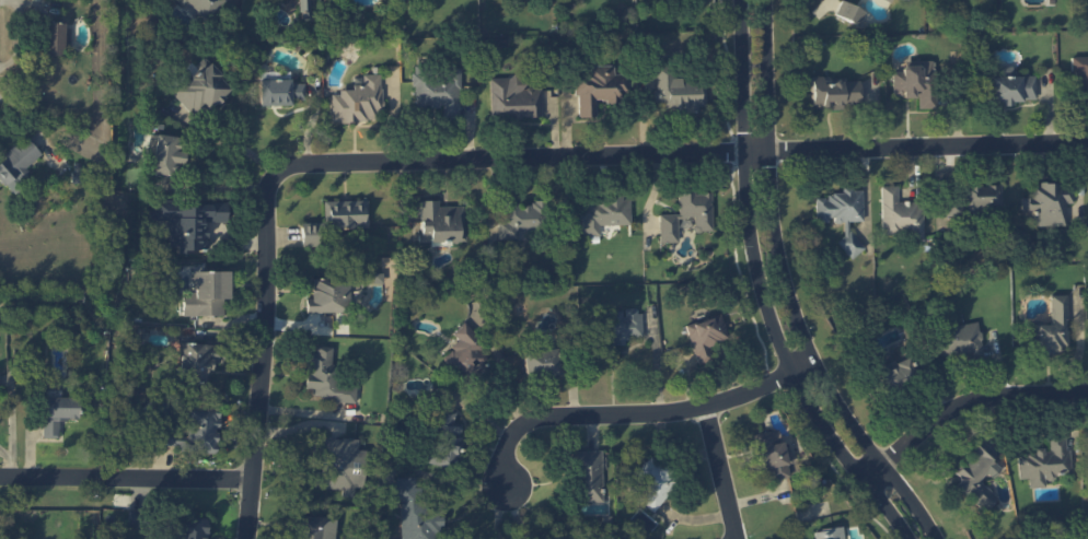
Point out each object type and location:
building: (889, 0)
building: (904, 0)
building: (202, 7)
building: (304, 8)
building: (848, 12)
building: (55, 39)
building: (1079, 72)
building: (915, 83)
building: (1010, 86)
building: (599, 87)
building: (199, 89)
building: (438, 91)
building: (678, 91)
building: (279, 92)
building: (833, 93)
building: (512, 98)
building: (359, 102)
road: (924, 147)
building: (164, 154)
building: (18, 163)
road: (333, 163)
building: (975, 199)
building: (1049, 203)
building: (696, 209)
building: (603, 213)
building: (345, 214)
building: (842, 215)
building: (900, 215)
building: (520, 220)
building: (187, 222)
building: (441, 222)
building: (668, 227)
building: (309, 234)
road: (743, 289)
road: (776, 290)
building: (206, 294)
building: (328, 295)
building: (618, 326)
building: (1052, 328)
building: (706, 337)
building: (960, 341)
building: (466, 354)
building: (198, 362)
building: (540, 363)
building: (894, 374)
building: (326, 377)
road: (970, 402)
building: (57, 413)
road: (635, 413)
building: (197, 429)
building: (772, 456)
building: (1043, 462)
building: (339, 465)
road: (722, 472)
building: (587, 476)
building: (975, 476)
road: (127, 478)
building: (653, 483)
road: (460, 484)
building: (414, 512)
building: (192, 527)
building: (314, 527)
building: (827, 534)

